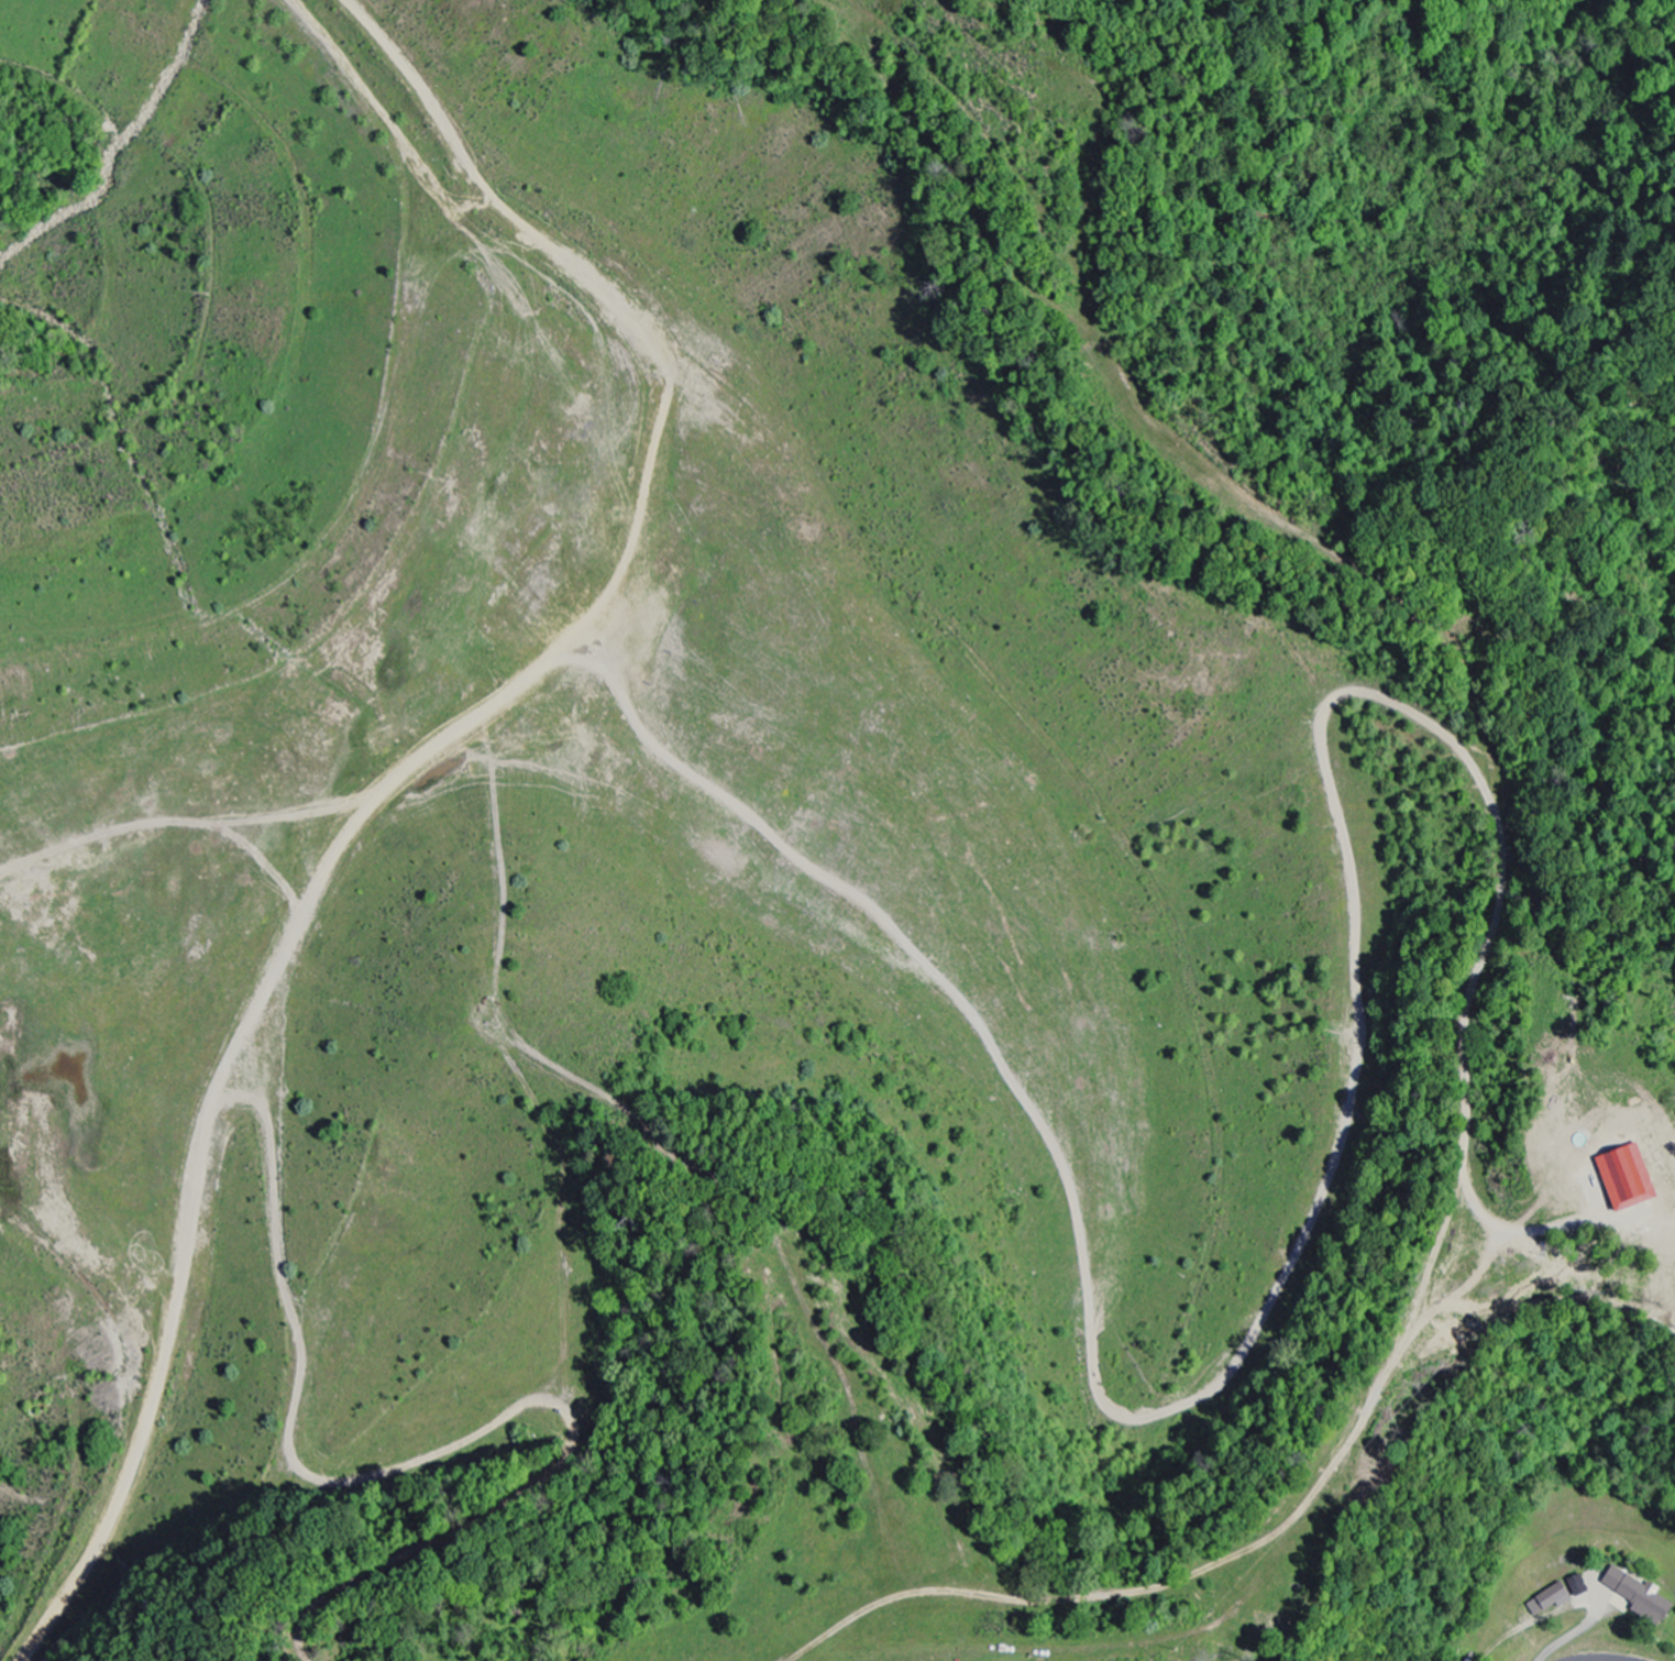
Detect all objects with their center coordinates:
building: (1617, 1174)
building: (1575, 1586)
building: (1634, 1594)
building: (1546, 1601)
road: (1591, 1645)

